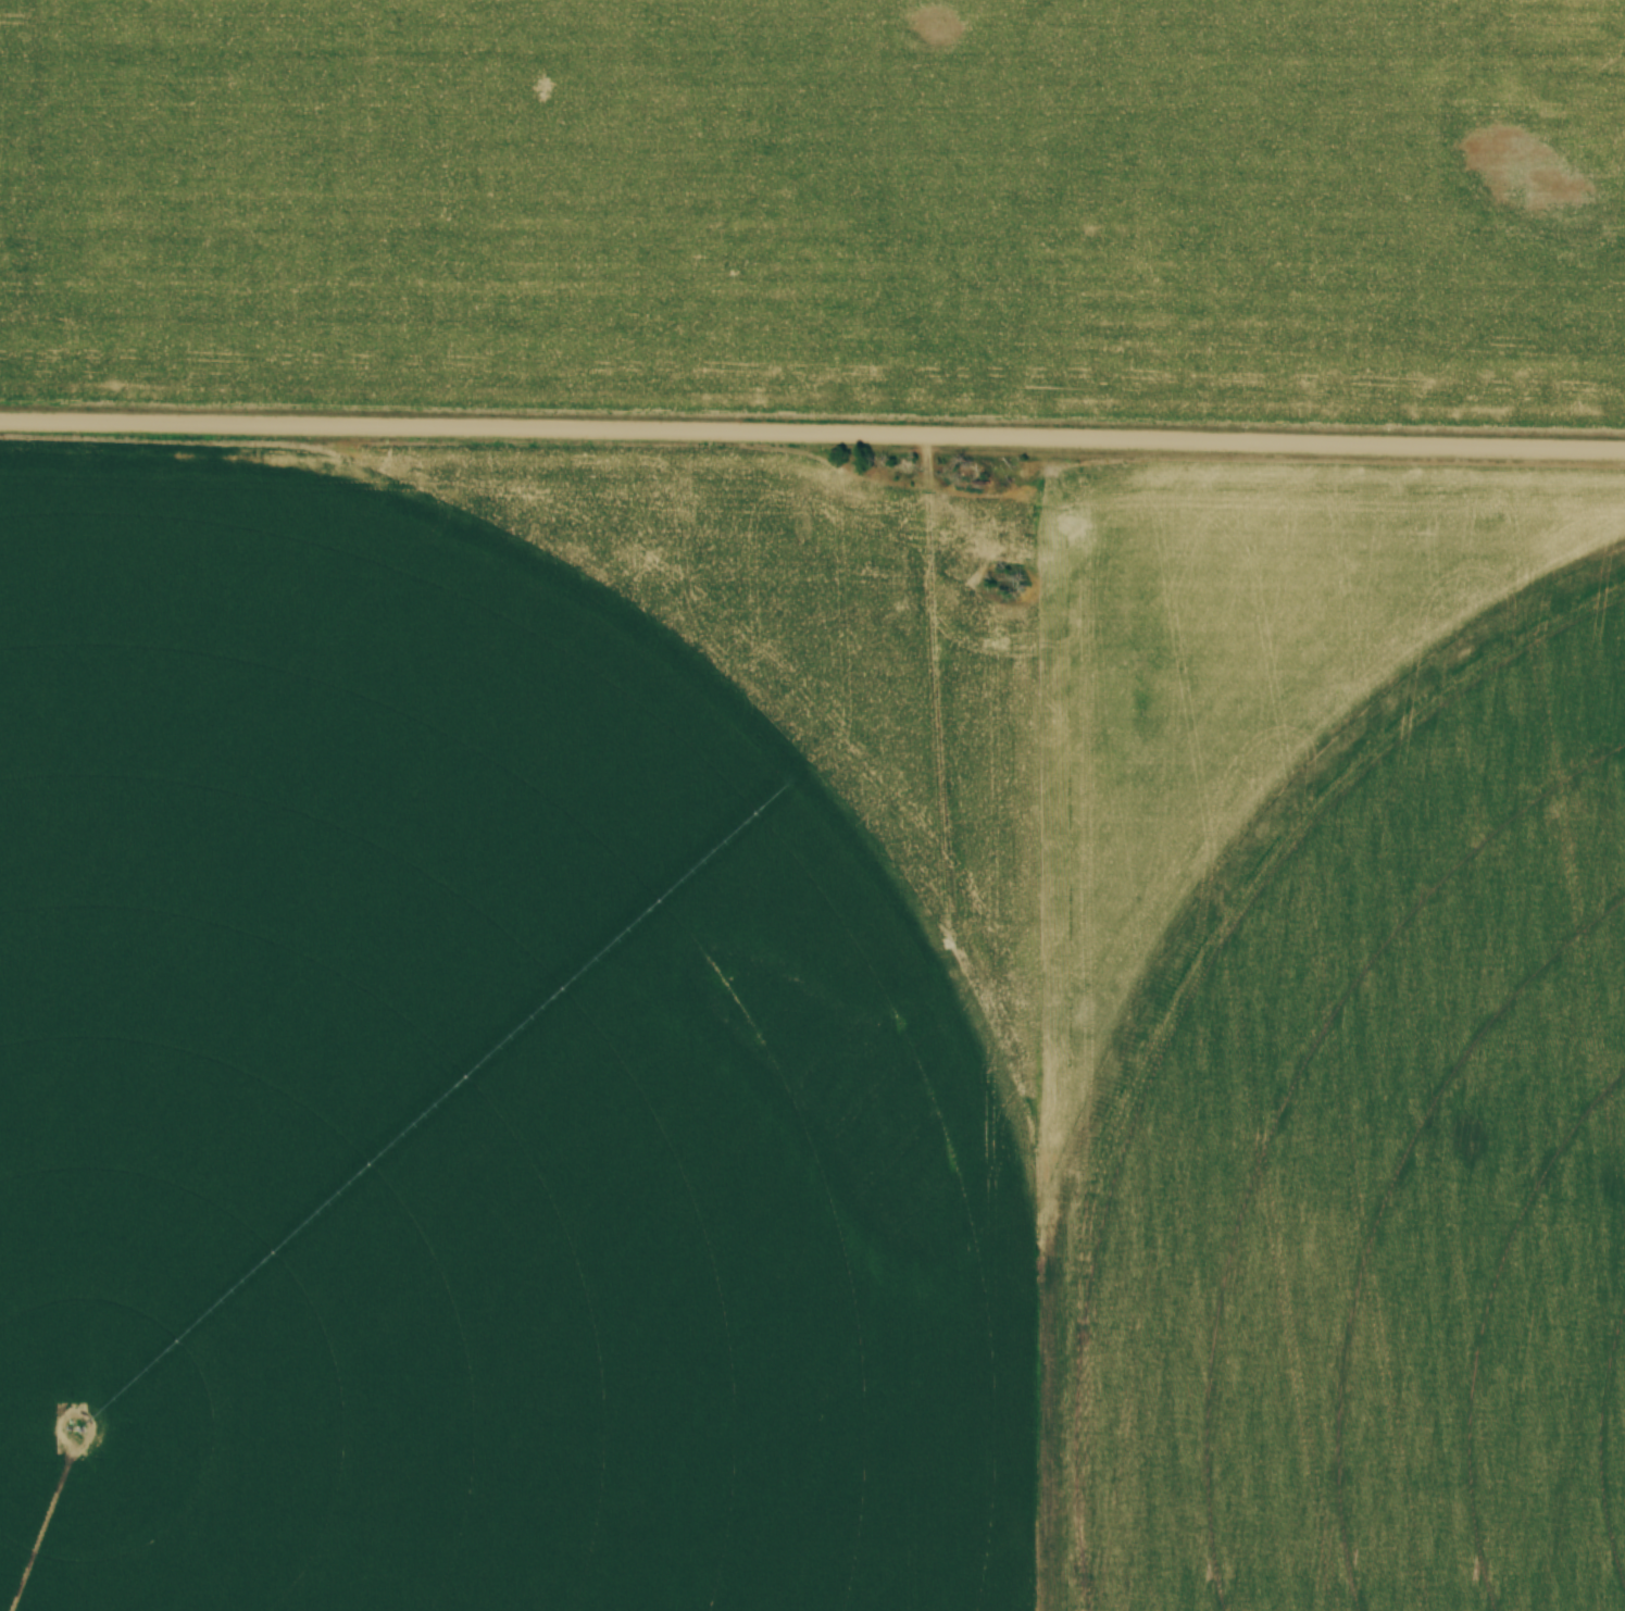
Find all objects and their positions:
crop: (821, 187)
road: (812, 439)
crop: (808, 1036)

